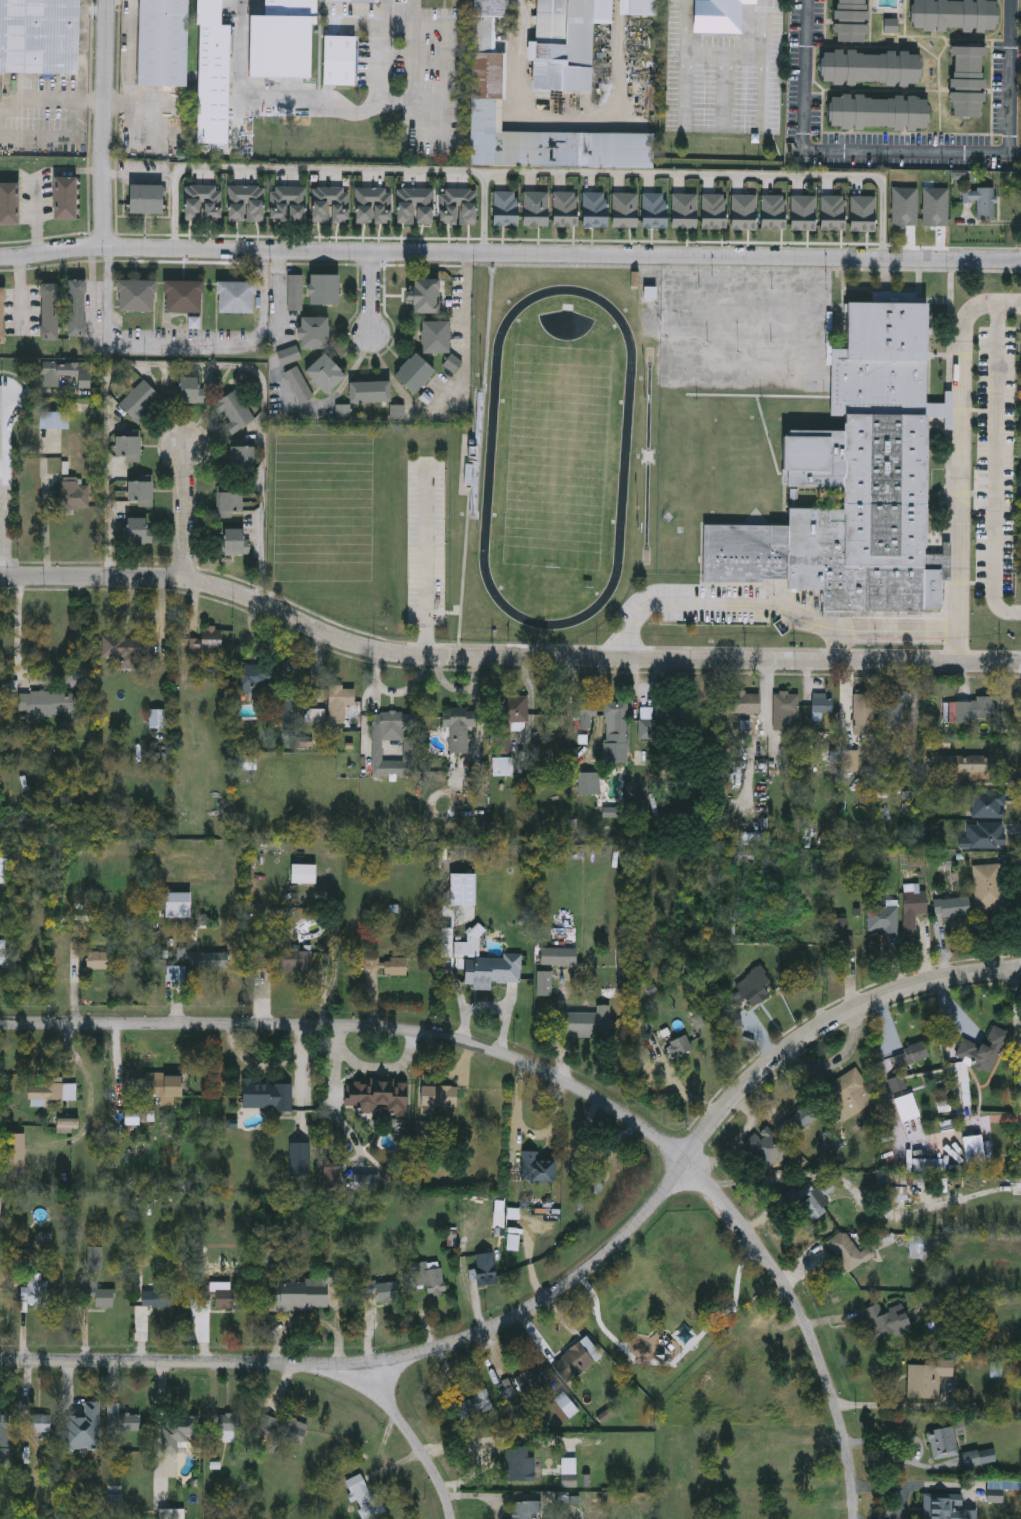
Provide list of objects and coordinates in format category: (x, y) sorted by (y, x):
building: (351, 1)
building: (638, 6)
building: (718, 15)
building: (954, 15)
building: (851, 20)
road: (435, 26)
building: (39, 35)
building: (282, 38)
building: (163, 42)
road: (413, 42)
building: (566, 42)
road: (83, 49)
road: (727, 57)
road: (130, 59)
building: (341, 60)
road: (433, 64)
building: (870, 67)
building: (213, 72)
road: (1010, 76)
building: (968, 80)
road: (689, 85)
road: (763, 88)
building: (486, 89)
road: (317, 97)
road: (53, 98)
road: (520, 108)
building: (879, 111)
road: (108, 124)
road: (444, 150)
road: (840, 150)
road: (366, 169)
road: (722, 175)
road: (175, 179)
building: (66, 197)
building: (145, 198)
building: (192, 201)
building: (980, 201)
building: (242, 202)
building: (291, 202)
building: (9, 203)
building: (580, 211)
building: (615, 211)
building: (653, 212)
road: (510, 252)
building: (325, 288)
building: (296, 291)
building: (136, 295)
building: (184, 295)
road: (372, 295)
building: (427, 295)
building: (237, 296)
building: (715, 301)
building: (747, 302)
building: (780, 302)
building: (811, 303)
building: (76, 307)
building: (49, 311)
building: (2, 315)
building: (684, 326)
building: (715, 326)
building: (747, 327)
building: (779, 328)
building: (810, 329)
building: (315, 332)
road: (468, 334)
building: (436, 336)
road: (196, 345)
building: (290, 354)
building: (683, 354)
building: (714, 354)
building: (778, 356)
building: (809, 357)
building: (454, 363)
building: (56, 371)
building: (325, 373)
building: (415, 373)
building: (683, 380)
building: (778, 381)
building: (713, 382)
building: (746, 383)
building: (809, 383)
building: (300, 384)
building: (192, 389)
building: (371, 391)
building: (142, 400)
building: (681, 406)
building: (713, 407)
building: (745, 409)
building: (777, 409)
building: (808, 409)
building: (236, 410)
building: (54, 417)
road: (961, 443)
building: (129, 447)
road: (2, 451)
building: (243, 455)
park: (557, 457)
building: (57, 465)
road: (995, 467)
building: (854, 481)
road: (5, 488)
building: (142, 493)
building: (76, 494)
building: (231, 499)
road: (188, 512)
road: (262, 517)
building: (136, 530)
building: (237, 541)
road: (436, 561)
road: (717, 603)
road: (22, 629)
road: (901, 629)
building: (208, 638)
road: (843, 646)
road: (960, 646)
building: (127, 648)
road: (503, 657)
building: (255, 677)
building: (339, 702)
building: (742, 702)
building: (822, 702)
building: (50, 703)
building: (784, 706)
building: (676, 709)
building: (969, 710)
building: (894, 712)
building: (585, 713)
building: (864, 713)
building: (508, 721)
building: (647, 723)
building: (396, 725)
building: (457, 728)
building: (616, 732)
building: (501, 766)
building: (972, 766)
building: (588, 784)
building: (987, 803)
building: (984, 836)
building: (302, 874)
building: (988, 888)
building: (177, 904)
building: (951, 907)
building: (912, 910)
building: (884, 922)
building: (838, 934)
building: (446, 946)
building: (8, 954)
building: (563, 955)
building: (204, 958)
building: (97, 960)
building: (388, 966)
building: (491, 970)
building: (175, 973)
building: (544, 983)
building: (753, 986)
building: (588, 1023)
road: (361, 1026)
building: (678, 1046)
building: (982, 1051)
building: (910, 1055)
building: (899, 1082)
building: (163, 1085)
building: (50, 1090)
building: (847, 1093)
building: (266, 1095)
building: (377, 1096)
building: (437, 1098)
building: (906, 1107)
road: (518, 1111)
building: (798, 1118)
building: (64, 1122)
road: (555, 1122)
building: (768, 1146)
building: (13, 1155)
building: (299, 1159)
building: (536, 1167)
building: (594, 1173)
building: (329, 1180)
building: (810, 1202)
building: (0, 1205)
building: (848, 1252)
building: (483, 1267)
building: (429, 1277)
road: (560, 1286)
building: (387, 1292)
building: (35, 1293)
building: (297, 1293)
building: (221, 1296)
park: (668, 1297)
building: (102, 1298)
building: (155, 1298)
building: (887, 1321)
road: (809, 1324)
building: (575, 1359)
building: (927, 1378)
building: (530, 1381)
building: (507, 1391)
building: (474, 1404)
building: (566, 1405)
building: (121, 1419)
building: (36, 1423)
building: (229, 1425)
building: (283, 1427)
building: (83, 1429)
building: (180, 1430)
building: (4, 1437)
road: (414, 1437)
building: (942, 1442)
building: (779, 1457)
building: (520, 1464)
building: (569, 1472)
building: (365, 1496)
building: (945, 1507)
building: (525, 1508)
building: (789, 1517)

